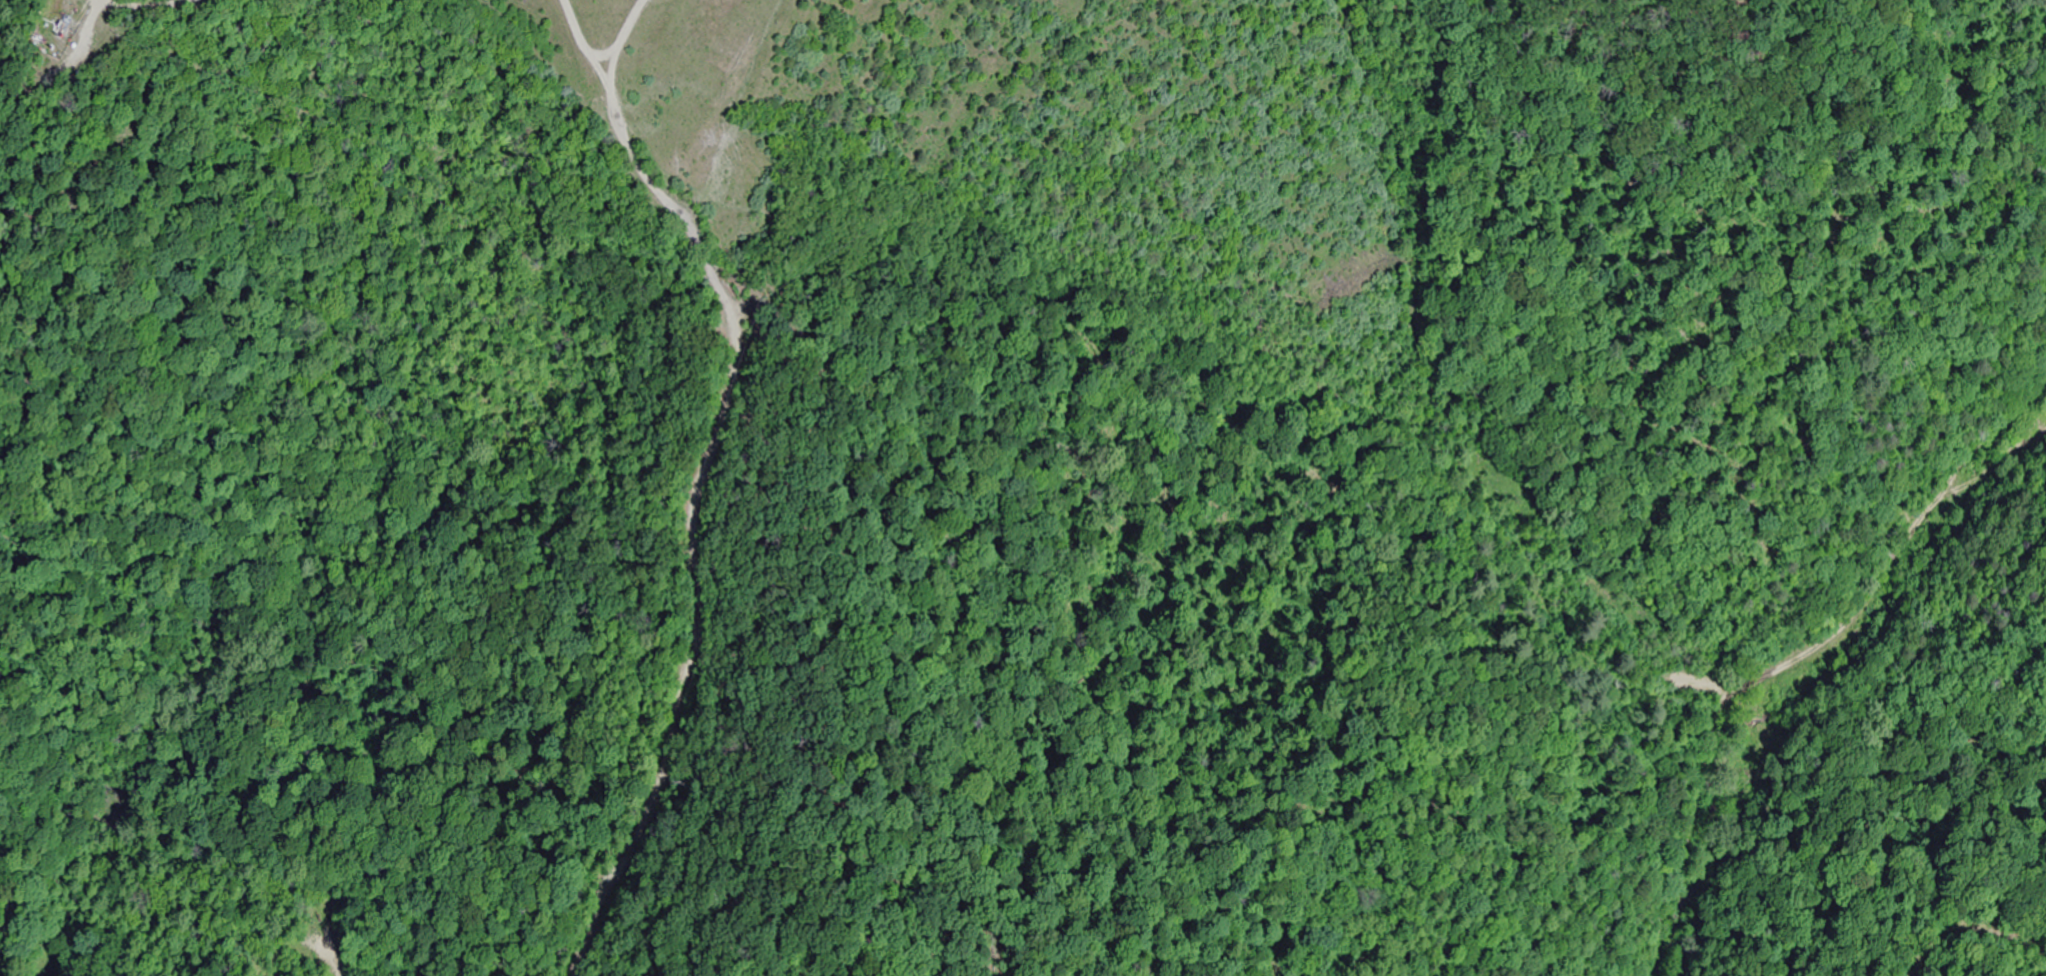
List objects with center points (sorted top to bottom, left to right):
road: (1868, 670)

